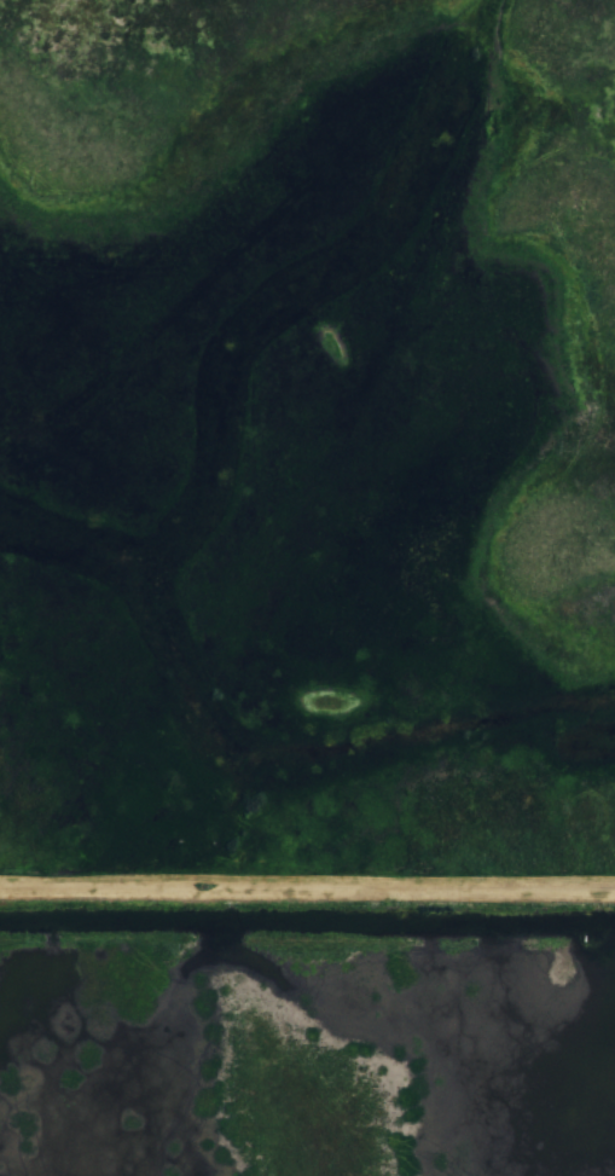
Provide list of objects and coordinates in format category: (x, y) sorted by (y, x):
crop: (585, 492)

